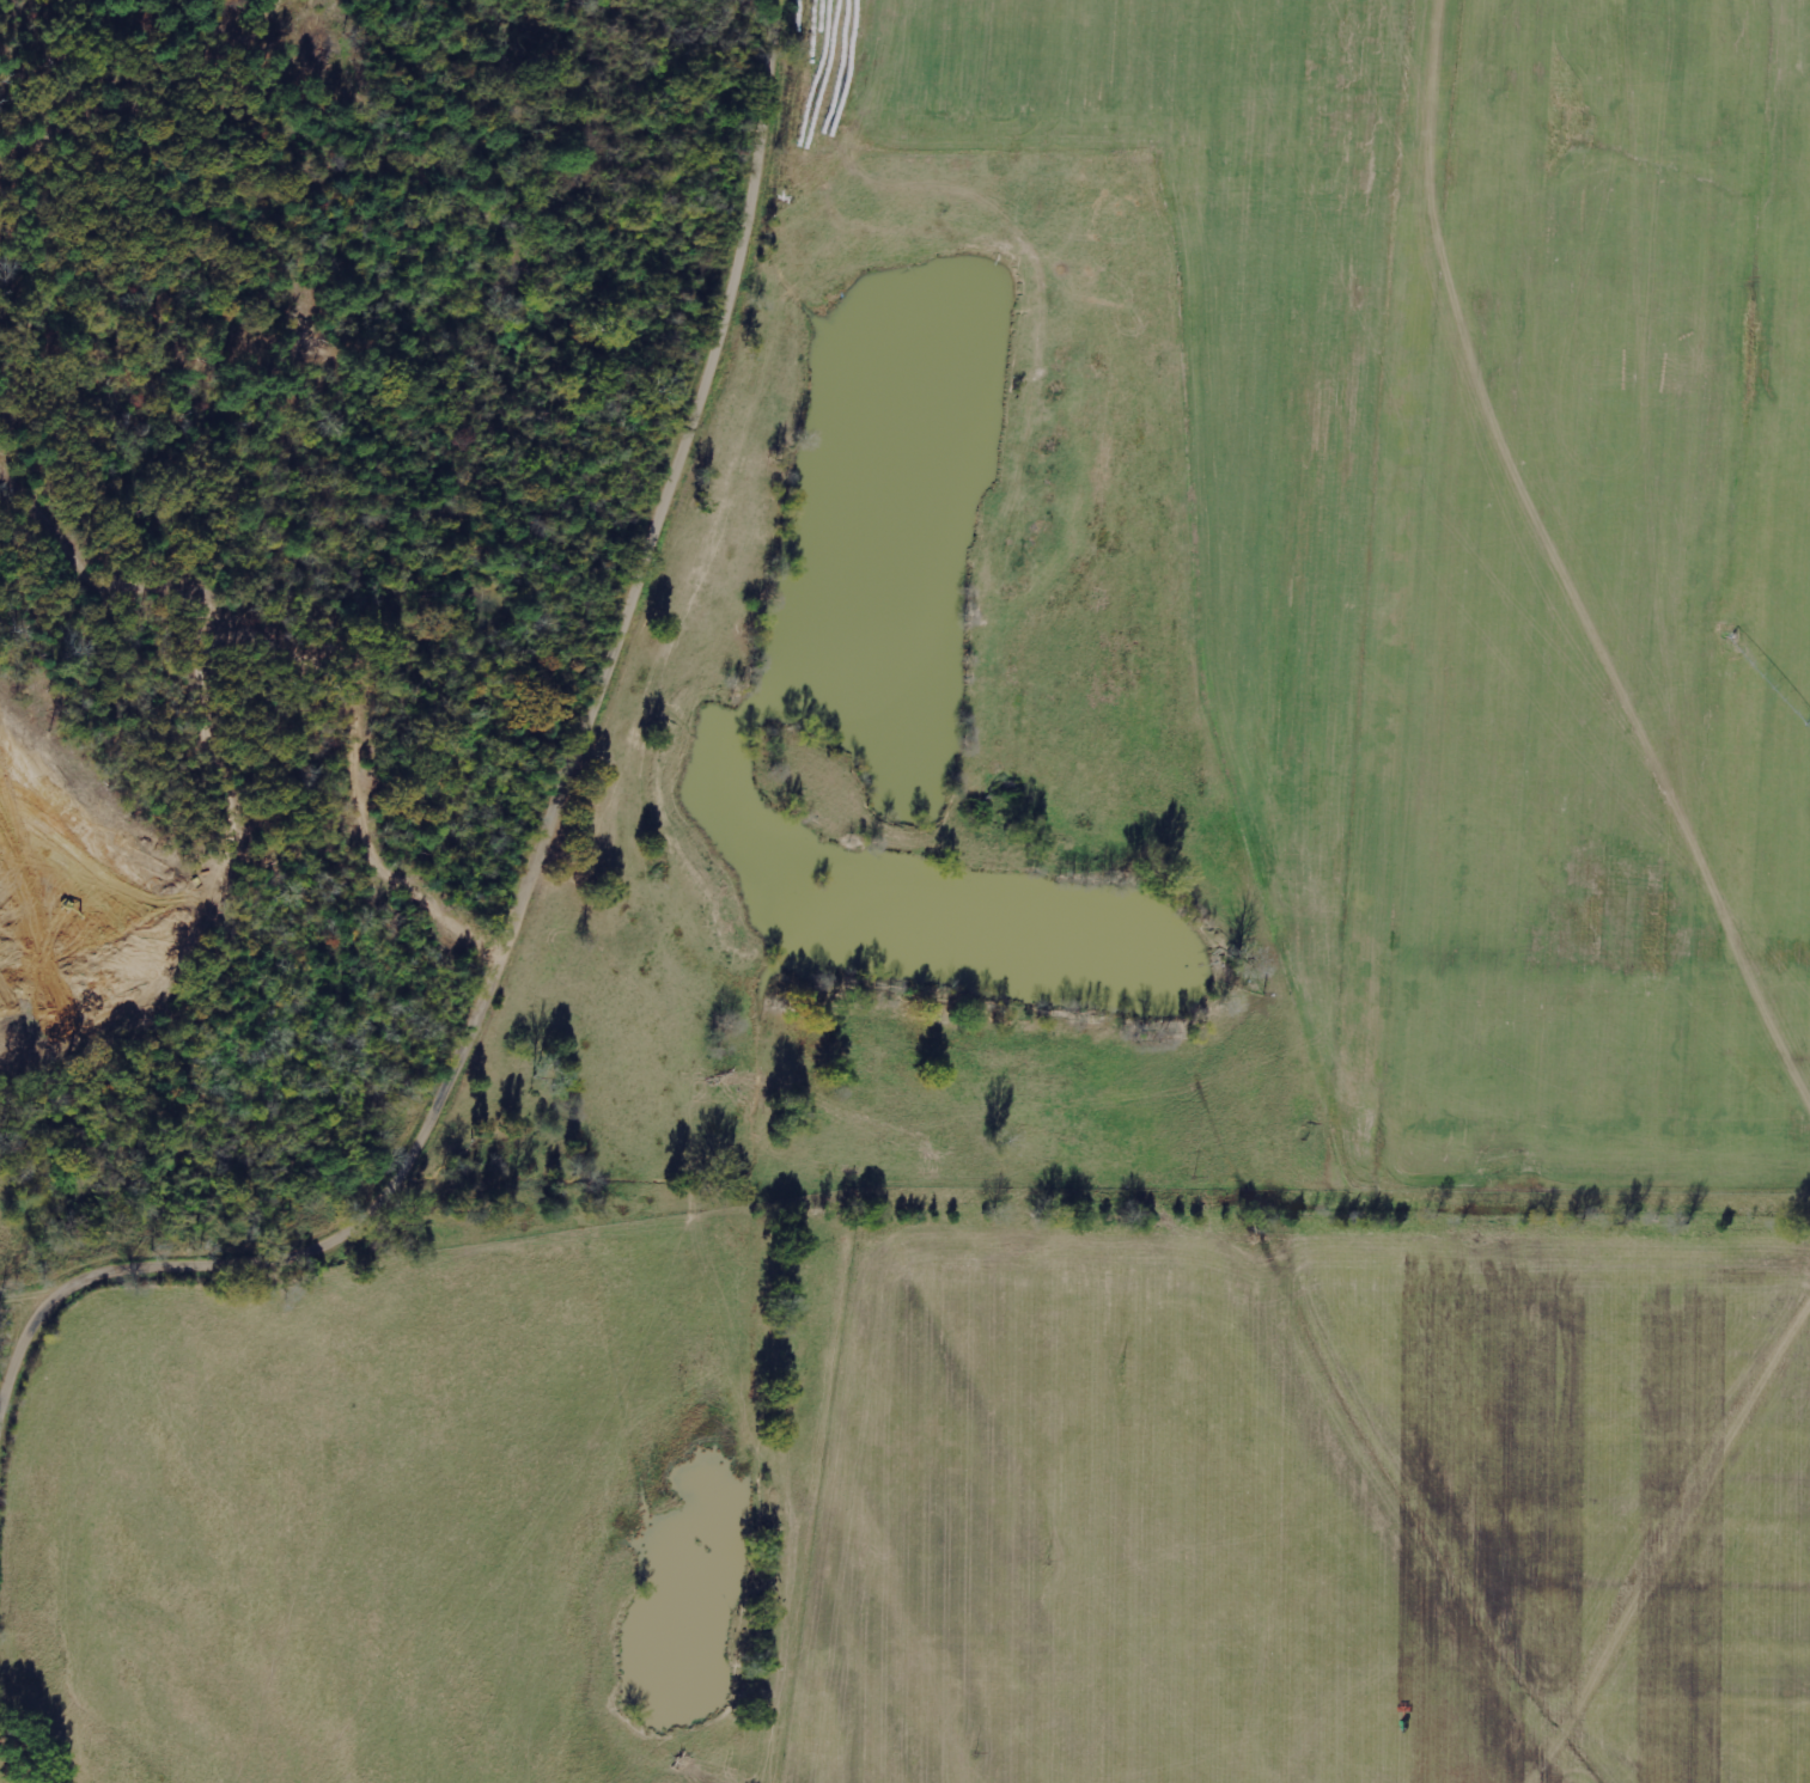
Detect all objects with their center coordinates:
road: (351, 973)

